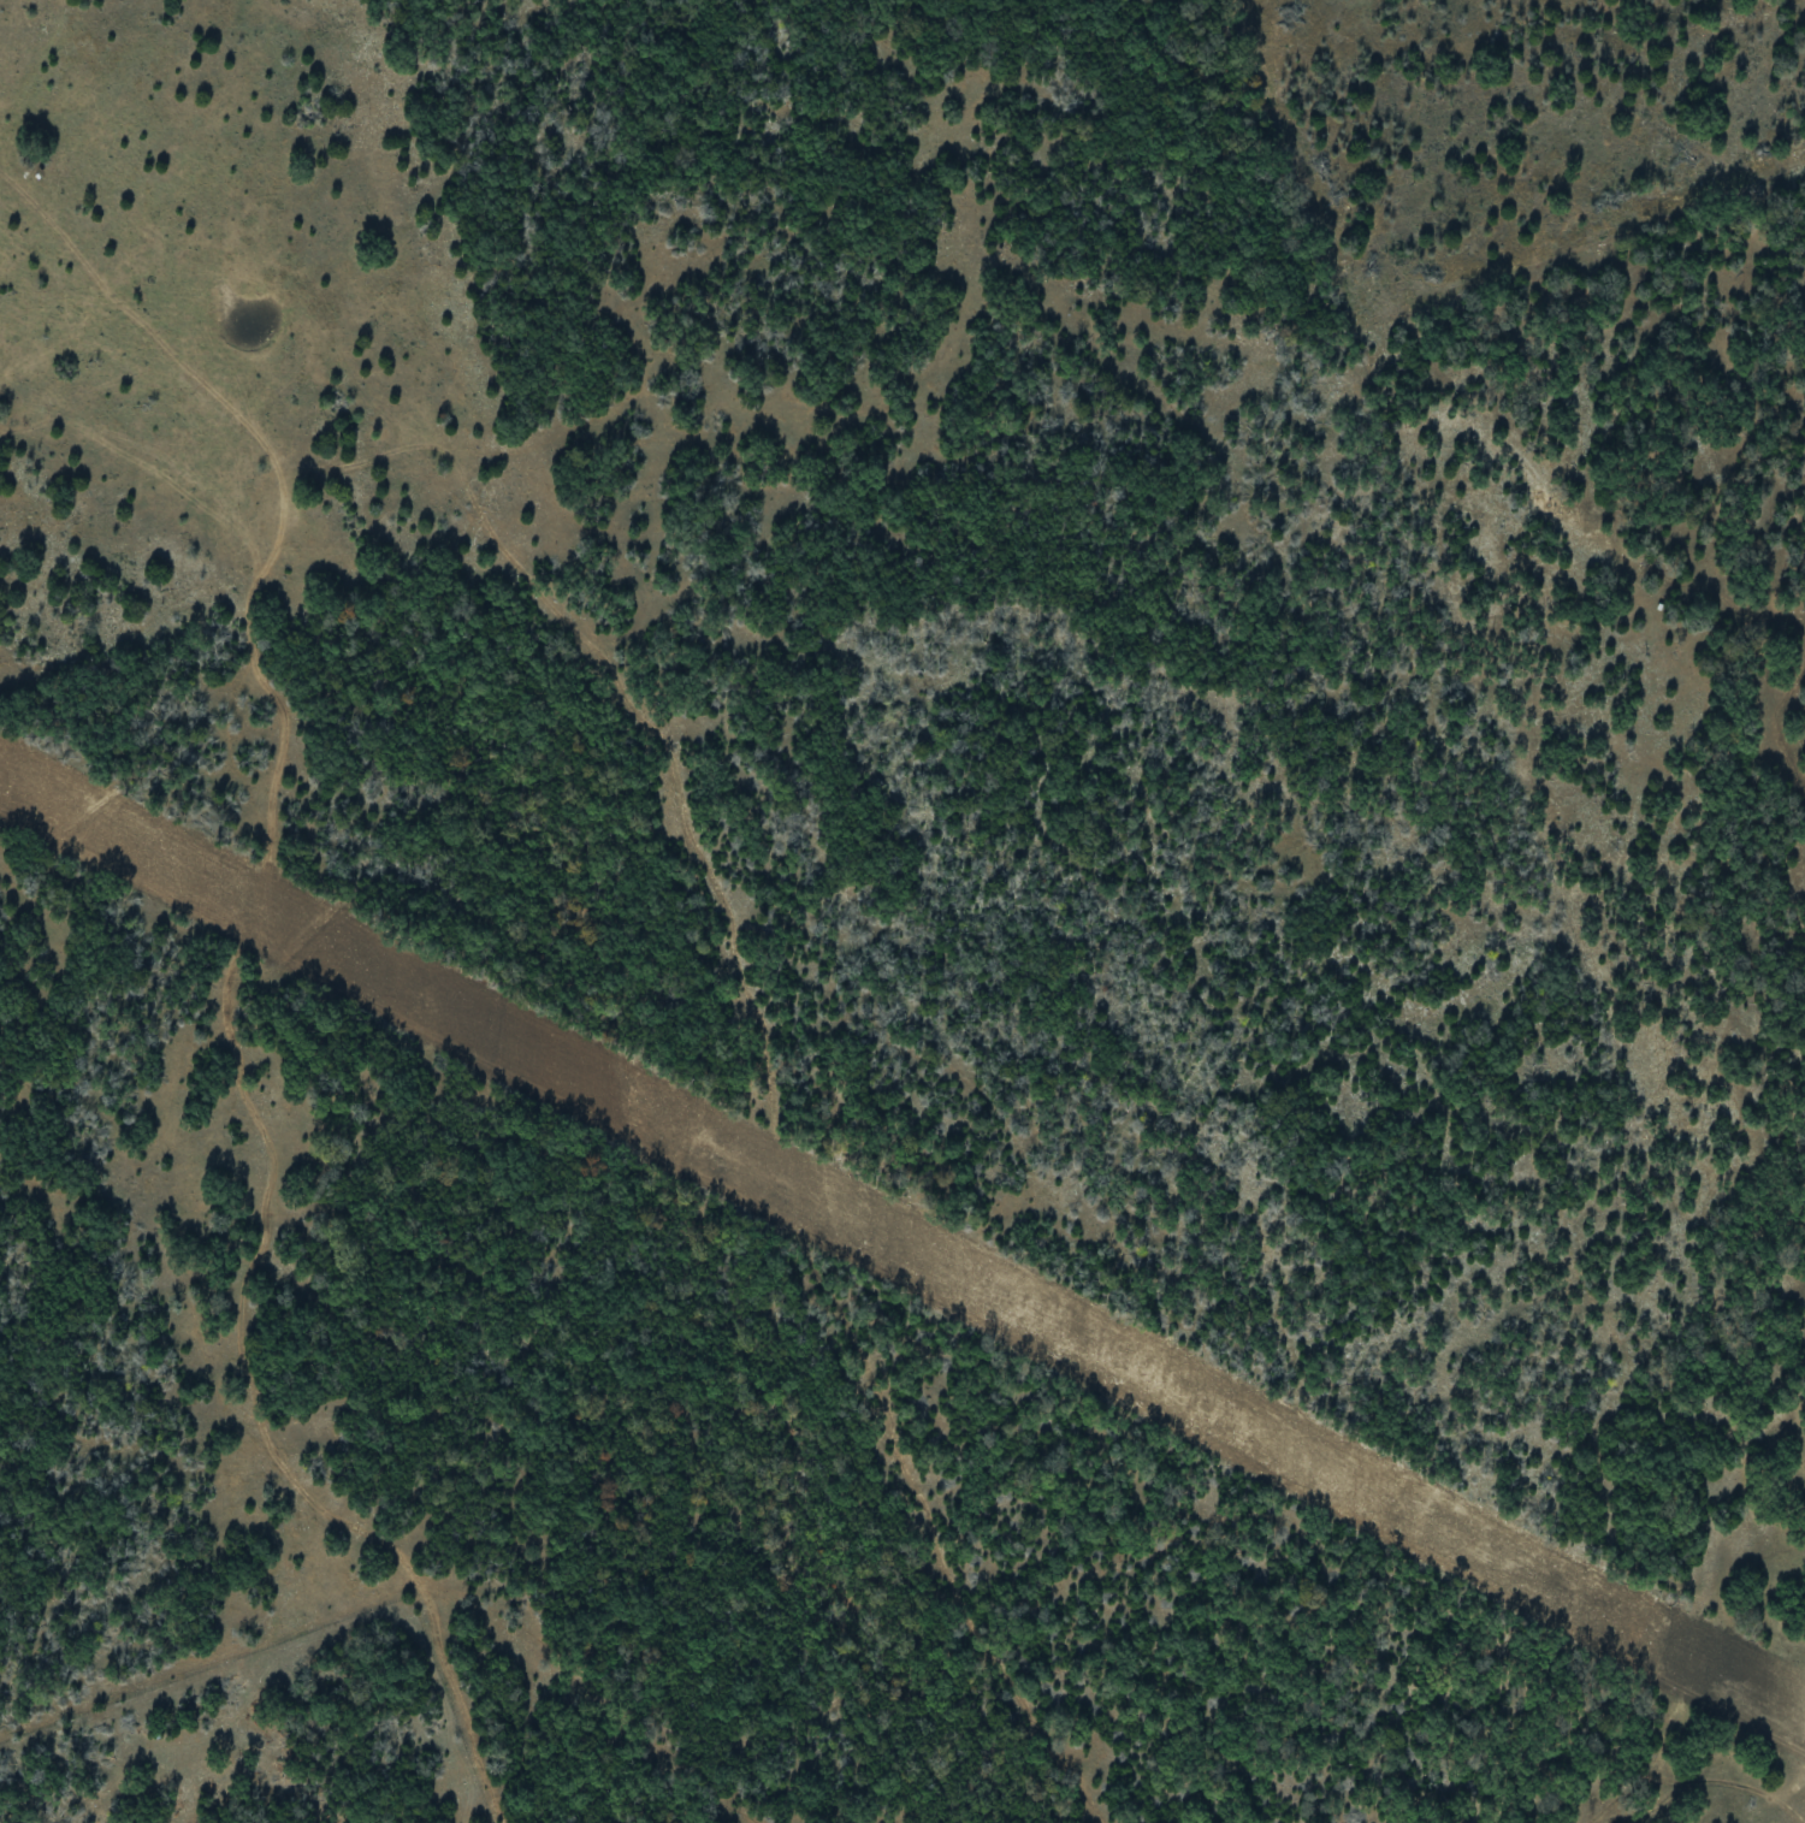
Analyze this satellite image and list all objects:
quarry: (1652, 698)

